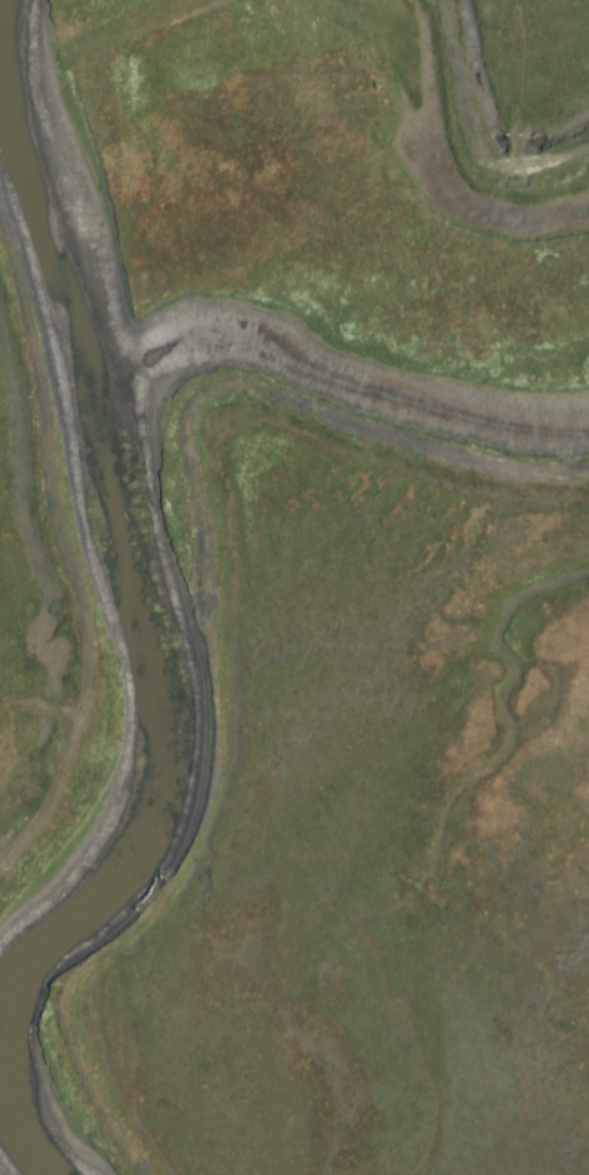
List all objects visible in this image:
river: (147, 604)

